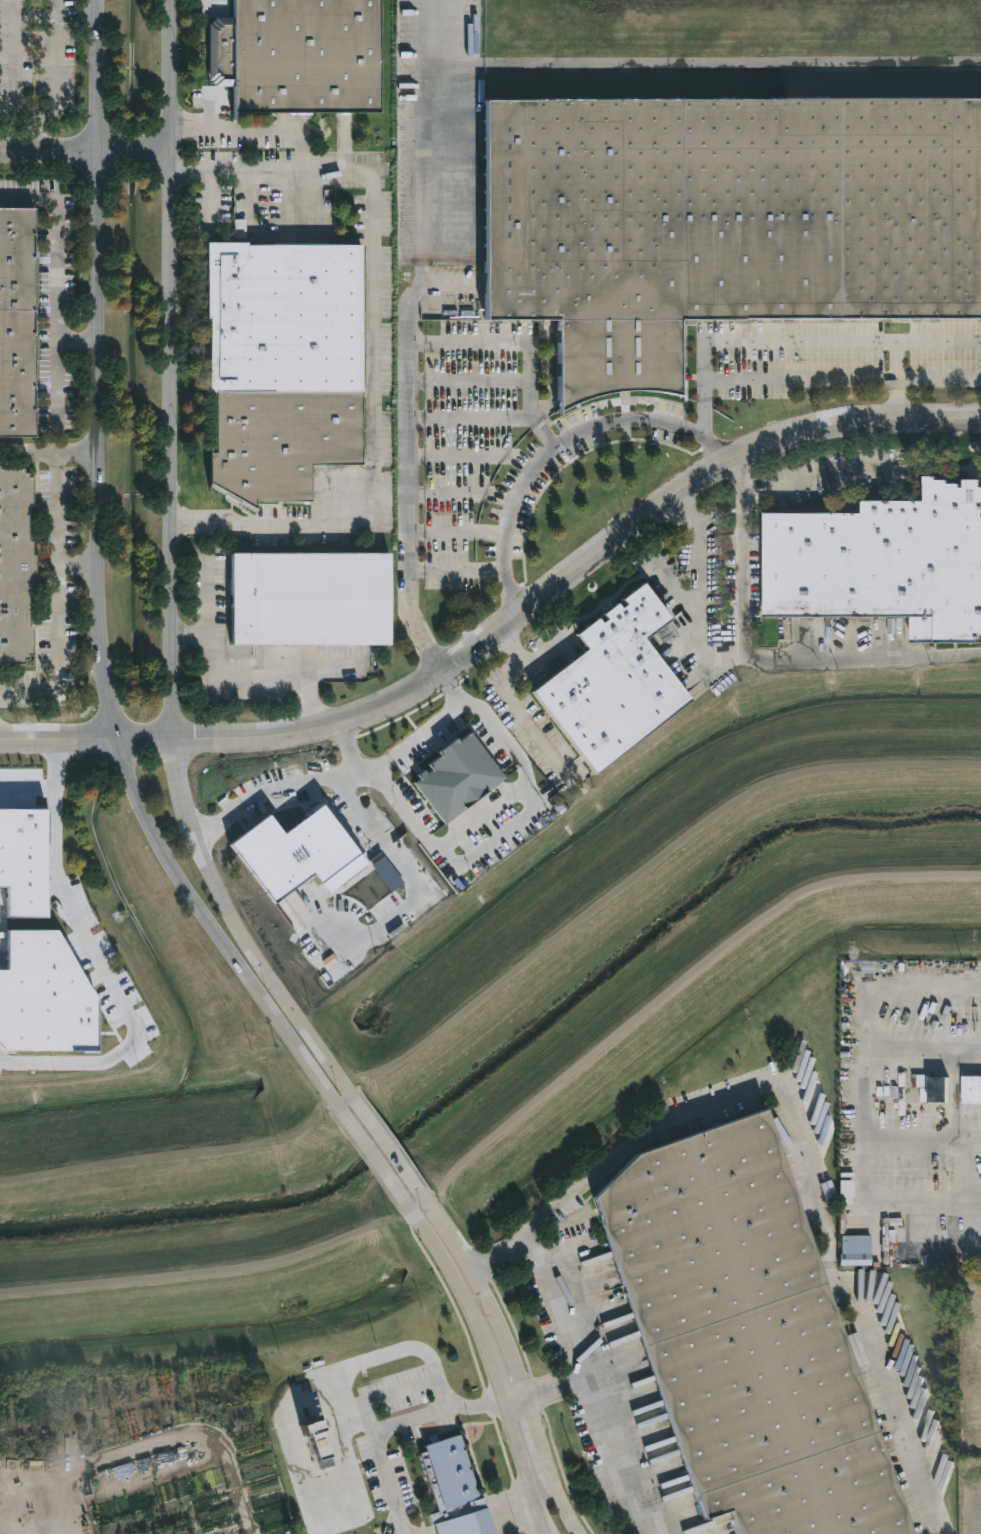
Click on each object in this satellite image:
road: (15, 7)
road: (57, 7)
road: (16, 49)
building: (293, 56)
road: (607, 70)
road: (56, 71)
road: (49, 150)
road: (136, 150)
road: (301, 152)
building: (720, 221)
road: (55, 286)
building: (22, 325)
road: (78, 339)
road: (507, 343)
road: (825, 344)
building: (278, 367)
road: (171, 369)
road: (933, 380)
road: (789, 381)
road: (895, 405)
road: (374, 411)
road: (471, 415)
road: (704, 419)
road: (547, 432)
road: (558, 443)
road: (50, 451)
road: (407, 468)
road: (821, 475)
road: (78, 563)
building: (882, 565)
building: (13, 567)
road: (577, 571)
road: (99, 580)
road: (56, 596)
building: (306, 599)
road: (736, 652)
road: (856, 660)
road: (248, 679)
building: (608, 685)
road: (511, 699)
road: (418, 737)
road: (88, 738)
road: (183, 781)
road: (30, 793)
road: (286, 797)
road: (482, 818)
road: (490, 841)
road: (257, 963)
road: (107, 966)
road: (923, 1047)
building: (935, 1090)
building: (971, 1091)
road: (864, 1110)
road: (795, 1134)
road: (383, 1144)
road: (369, 1156)
building: (861, 1252)
road: (558, 1306)
building: (740, 1336)
road: (512, 1360)
road: (491, 1366)
road: (314, 1383)
road: (347, 1391)
road: (378, 1396)
road: (474, 1407)
road: (610, 1420)
road: (376, 1446)
road: (343, 1457)
building: (449, 1489)
road: (540, 1524)

